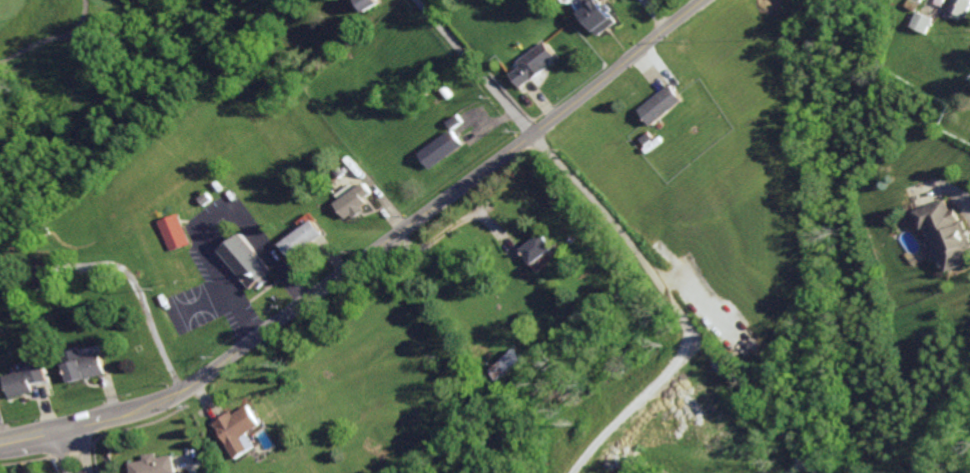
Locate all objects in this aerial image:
building: (371, 4)
building: (961, 8)
building: (598, 15)
building: (921, 21)
road: (51, 36)
building: (535, 63)
park: (90, 82)
building: (660, 104)
building: (456, 120)
building: (443, 149)
building: (358, 202)
road: (213, 213)
road: (961, 213)
road: (419, 220)
road: (618, 233)
building: (177, 234)
building: (943, 234)
building: (307, 238)
building: (539, 249)
building: (250, 266)
parking lot: (228, 275)
building: (44, 277)
building: (501, 364)
building: (86, 366)
building: (27, 379)
road: (89, 417)
road: (663, 425)
road: (30, 430)
building: (240, 430)
road: (63, 433)
road: (80, 454)
road: (63, 457)
road: (188, 463)
building: (154, 465)
road: (793, 466)

